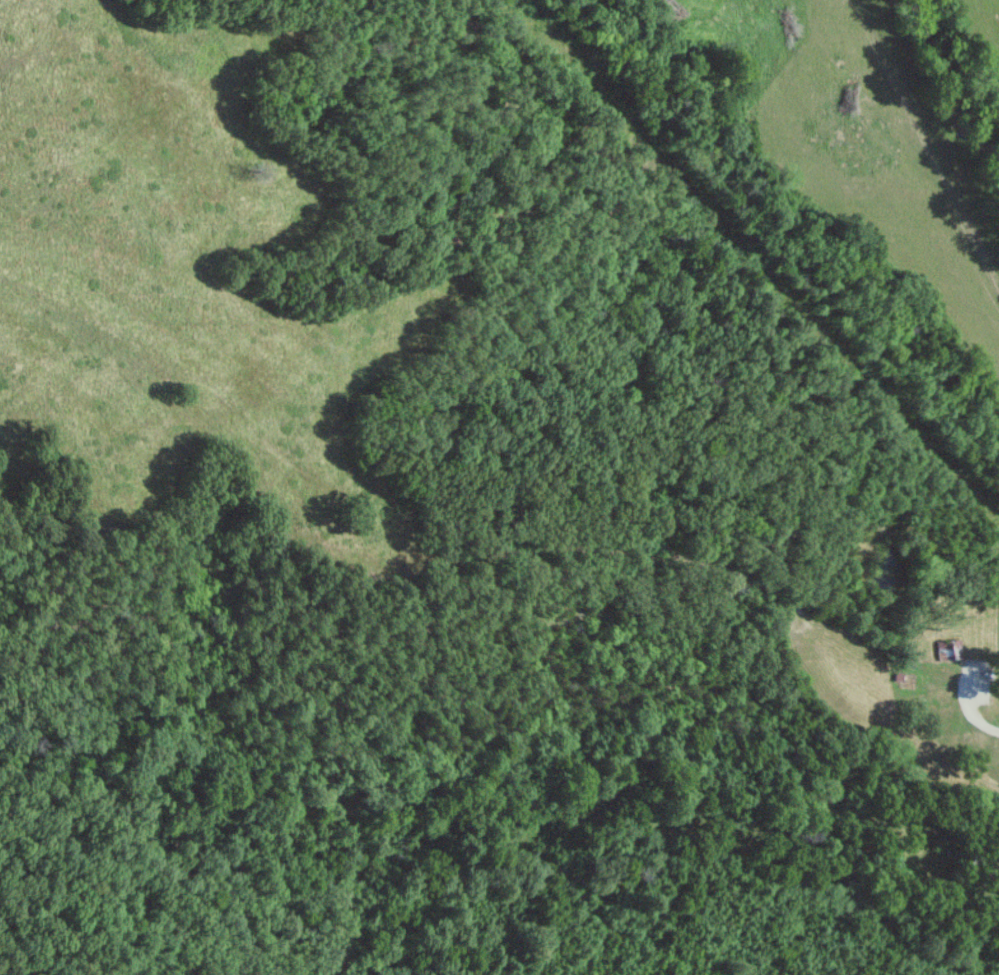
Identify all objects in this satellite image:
road: (974, 711)

